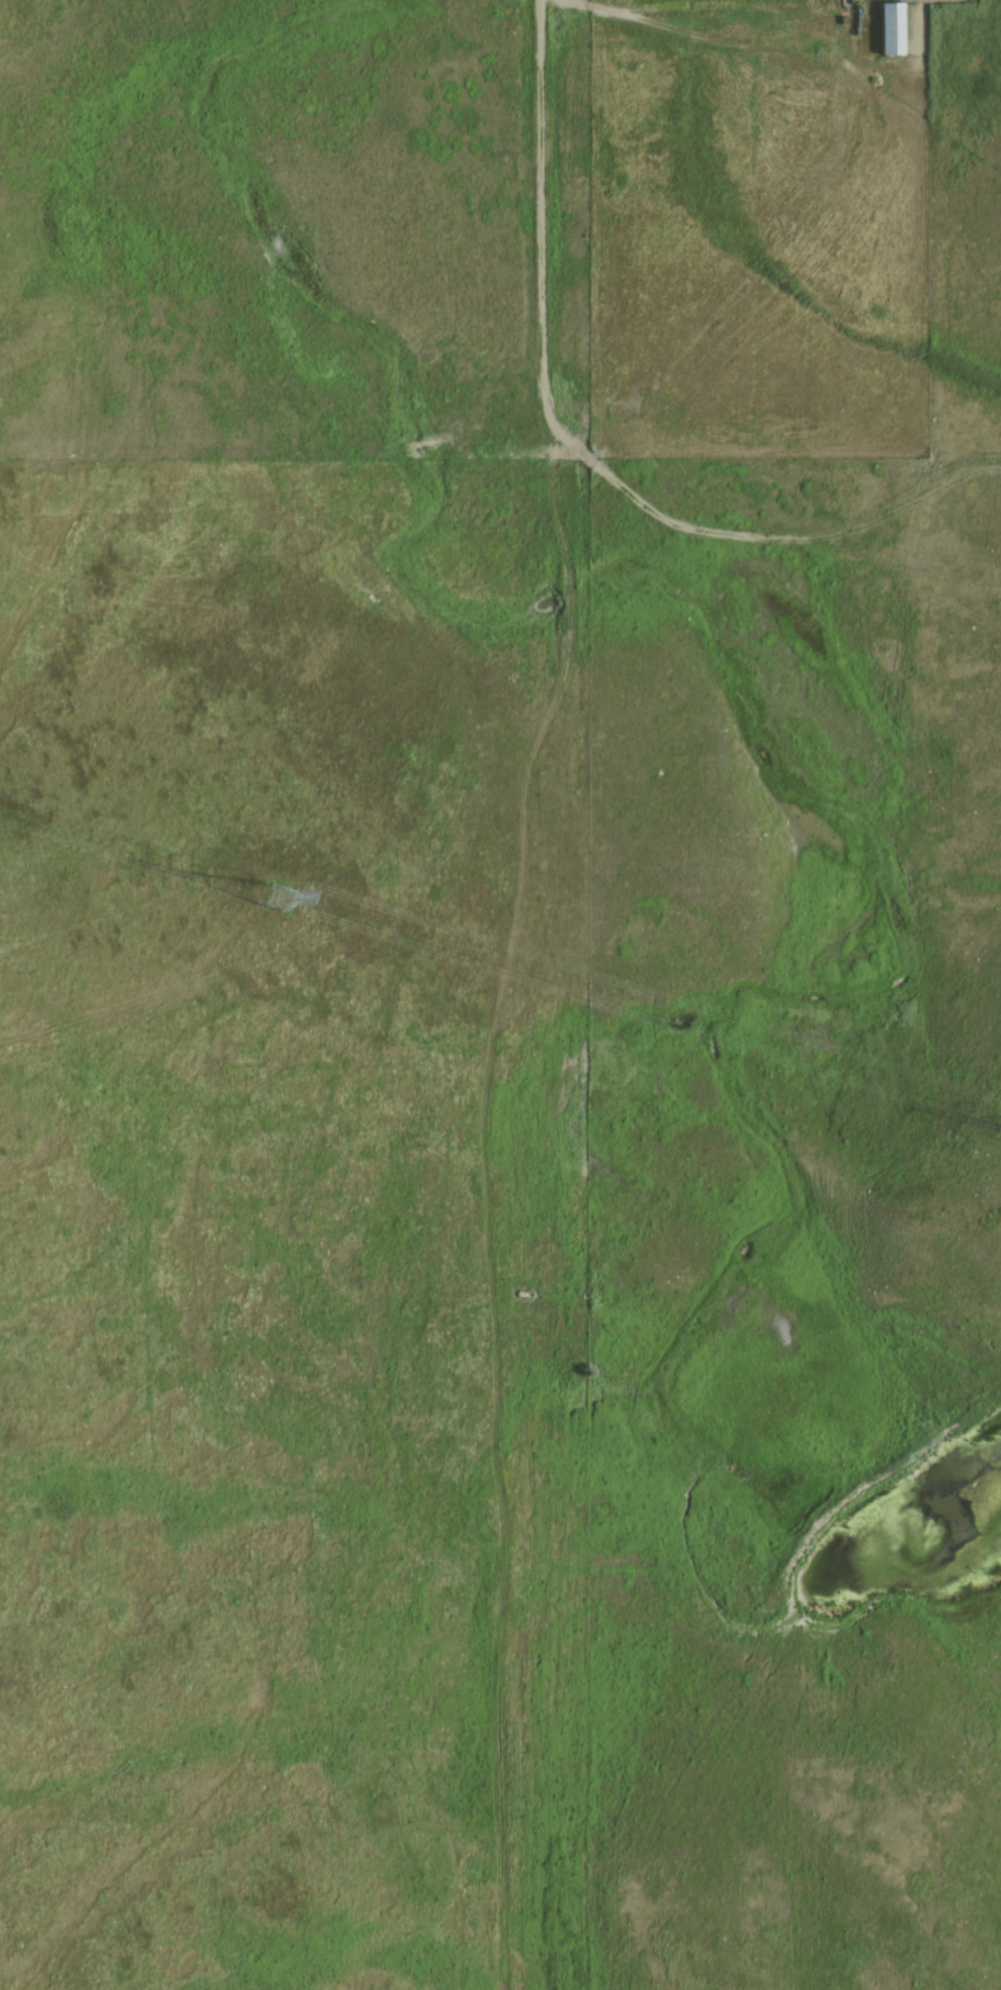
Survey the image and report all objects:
building: (889, 30)
road: (541, 227)
power tower: (276, 899)

